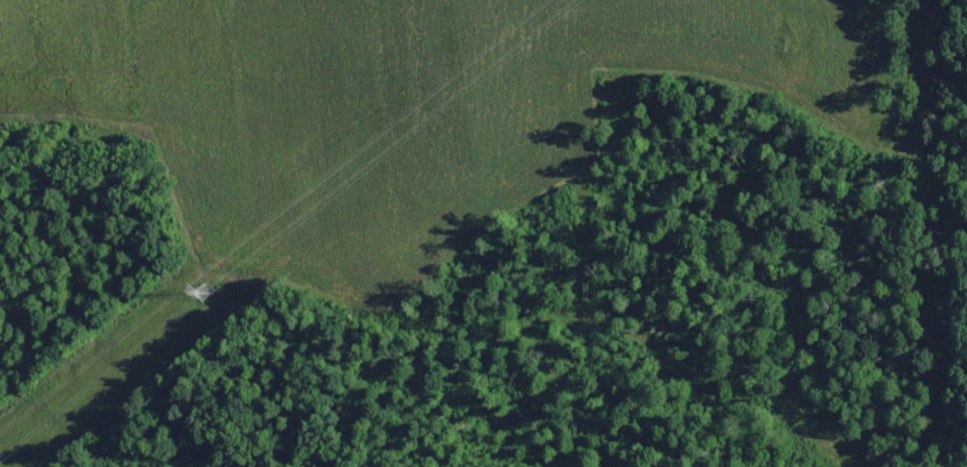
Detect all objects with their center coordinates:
power tower: (202, 293)

